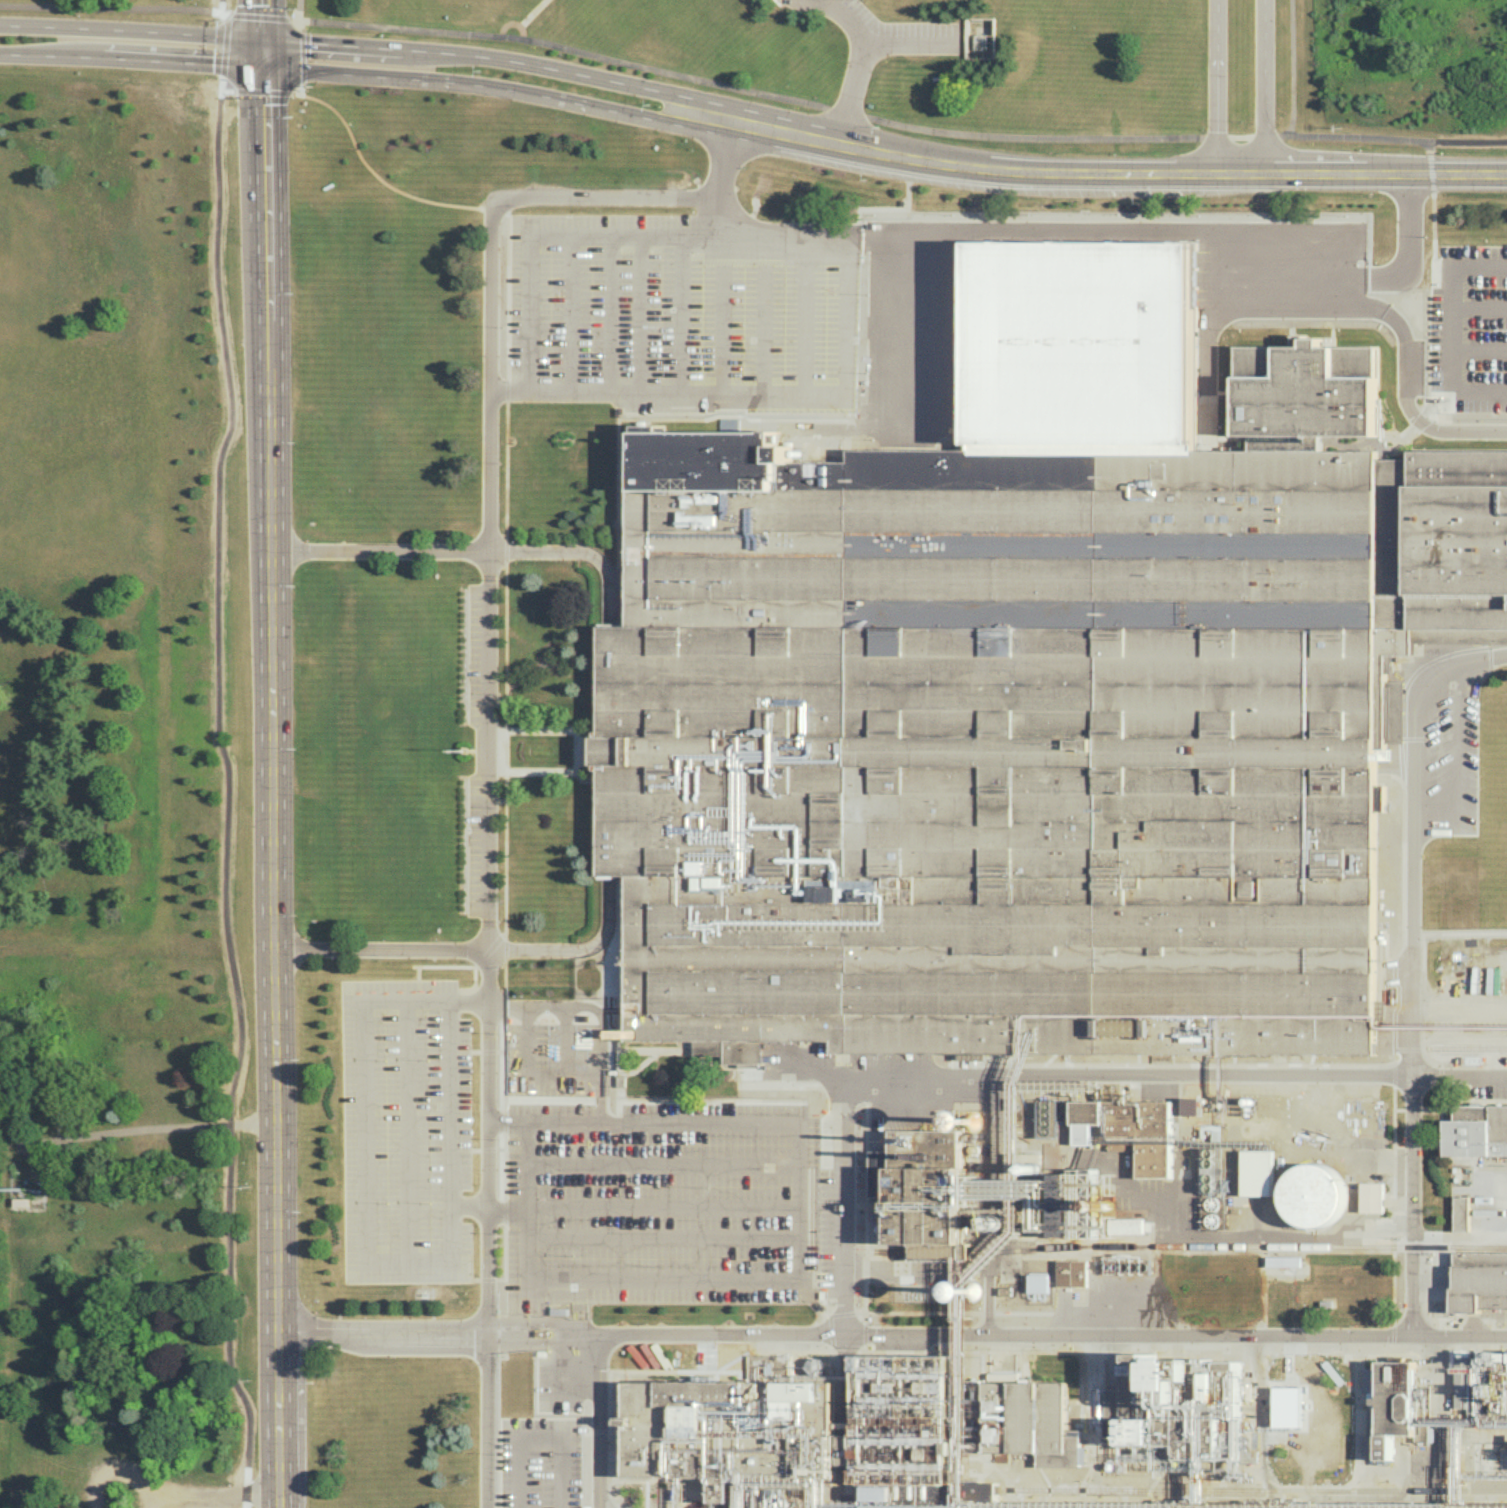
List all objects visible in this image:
road: (225, 8)
road: (300, 11)
road: (528, 17)
road: (262, 20)
road: (131, 32)
traffic signals: (262, 42)
road: (905, 43)
road: (223, 47)
road: (262, 50)
road: (301, 57)
road: (500, 60)
road: (131, 61)
road: (857, 63)
road: (262, 64)
road: (1290, 69)
traffic signals: (262, 70)
road: (1266, 87)
road: (1217, 88)
road: (732, 89)
road: (220, 90)
road: (496, 90)
road: (265, 91)
road: (1470, 143)
road: (722, 163)
road: (1079, 176)
road: (1470, 176)
road: (461, 205)
road: (1433, 226)
road: (715, 234)
road: (1478, 306)
road: (1373, 308)
parking lot: (676, 313)
road: (570, 314)
road: (611, 314)
road: (639, 314)
road: (683, 314)
road: (1450, 328)
road: (527, 332)
building: (1081, 344)
road: (1478, 349)
building: (1308, 389)
road: (505, 390)
building: (729, 423)
road: (505, 471)
road: (505, 551)
road: (1410, 677)
building: (1021, 725)
road: (489, 745)
road: (504, 749)
road: (575, 749)
road: (603, 750)
road: (1457, 769)
road: (269, 789)
road: (227, 800)
road: (1402, 870)
road: (1421, 960)
road: (481, 965)
road: (442, 966)
road: (1410, 972)
road: (504, 978)
road: (418, 984)
road: (473, 984)
road: (504, 1005)
road: (512, 1006)
road: (1395, 1008)
road: (565, 1021)
road: (599, 1024)
railway: (1445, 1046)
road: (458, 1050)
road: (473, 1050)
road: (486, 1050)
road: (499, 1051)
road: (503, 1063)
road: (1393, 1074)
road: (1440, 1074)
road: (1180, 1078)
road: (843, 1092)
road: (600, 1097)
road: (503, 1120)
water tower: (971, 1122)
road: (364, 1129)
road: (406, 1129)
road: (448, 1129)
building: (1477, 1130)
road: (130, 1135)
road: (489, 1148)
road: (459, 1150)
road: (473, 1150)
parking lot: (554, 1159)
road: (663, 1163)
building: (924, 1163)
road: (503, 1165)
building: (1258, 1172)
building: (1314, 1195)
building: (1372, 1196)
road: (664, 1206)
road: (865, 1206)
road: (1393, 1206)
road: (487, 1209)
road: (503, 1211)
building: (1462, 1213)
road: (664, 1238)
railway: (1192, 1246)
road: (406, 1256)
building: (1284, 1260)
road: (503, 1266)
building: (1072, 1272)
road: (802, 1279)
building: (1479, 1280)
building: (1038, 1282)
building: (971, 1290)
road: (847, 1293)
water tower: (974, 1293)
road: (923, 1312)
road: (988, 1312)
road: (1023, 1312)
road: (1413, 1325)
road: (1393, 1335)
road: (1051, 1336)
road: (437, 1337)
road: (830, 1346)
building: (1403, 1406)
building: (1178, 1411)
road: (597, 1424)
building: (836, 1432)
road: (538, 1440)
railway: (1143, 1487)
road: (234, 1498)
building: (1191, 1504)

